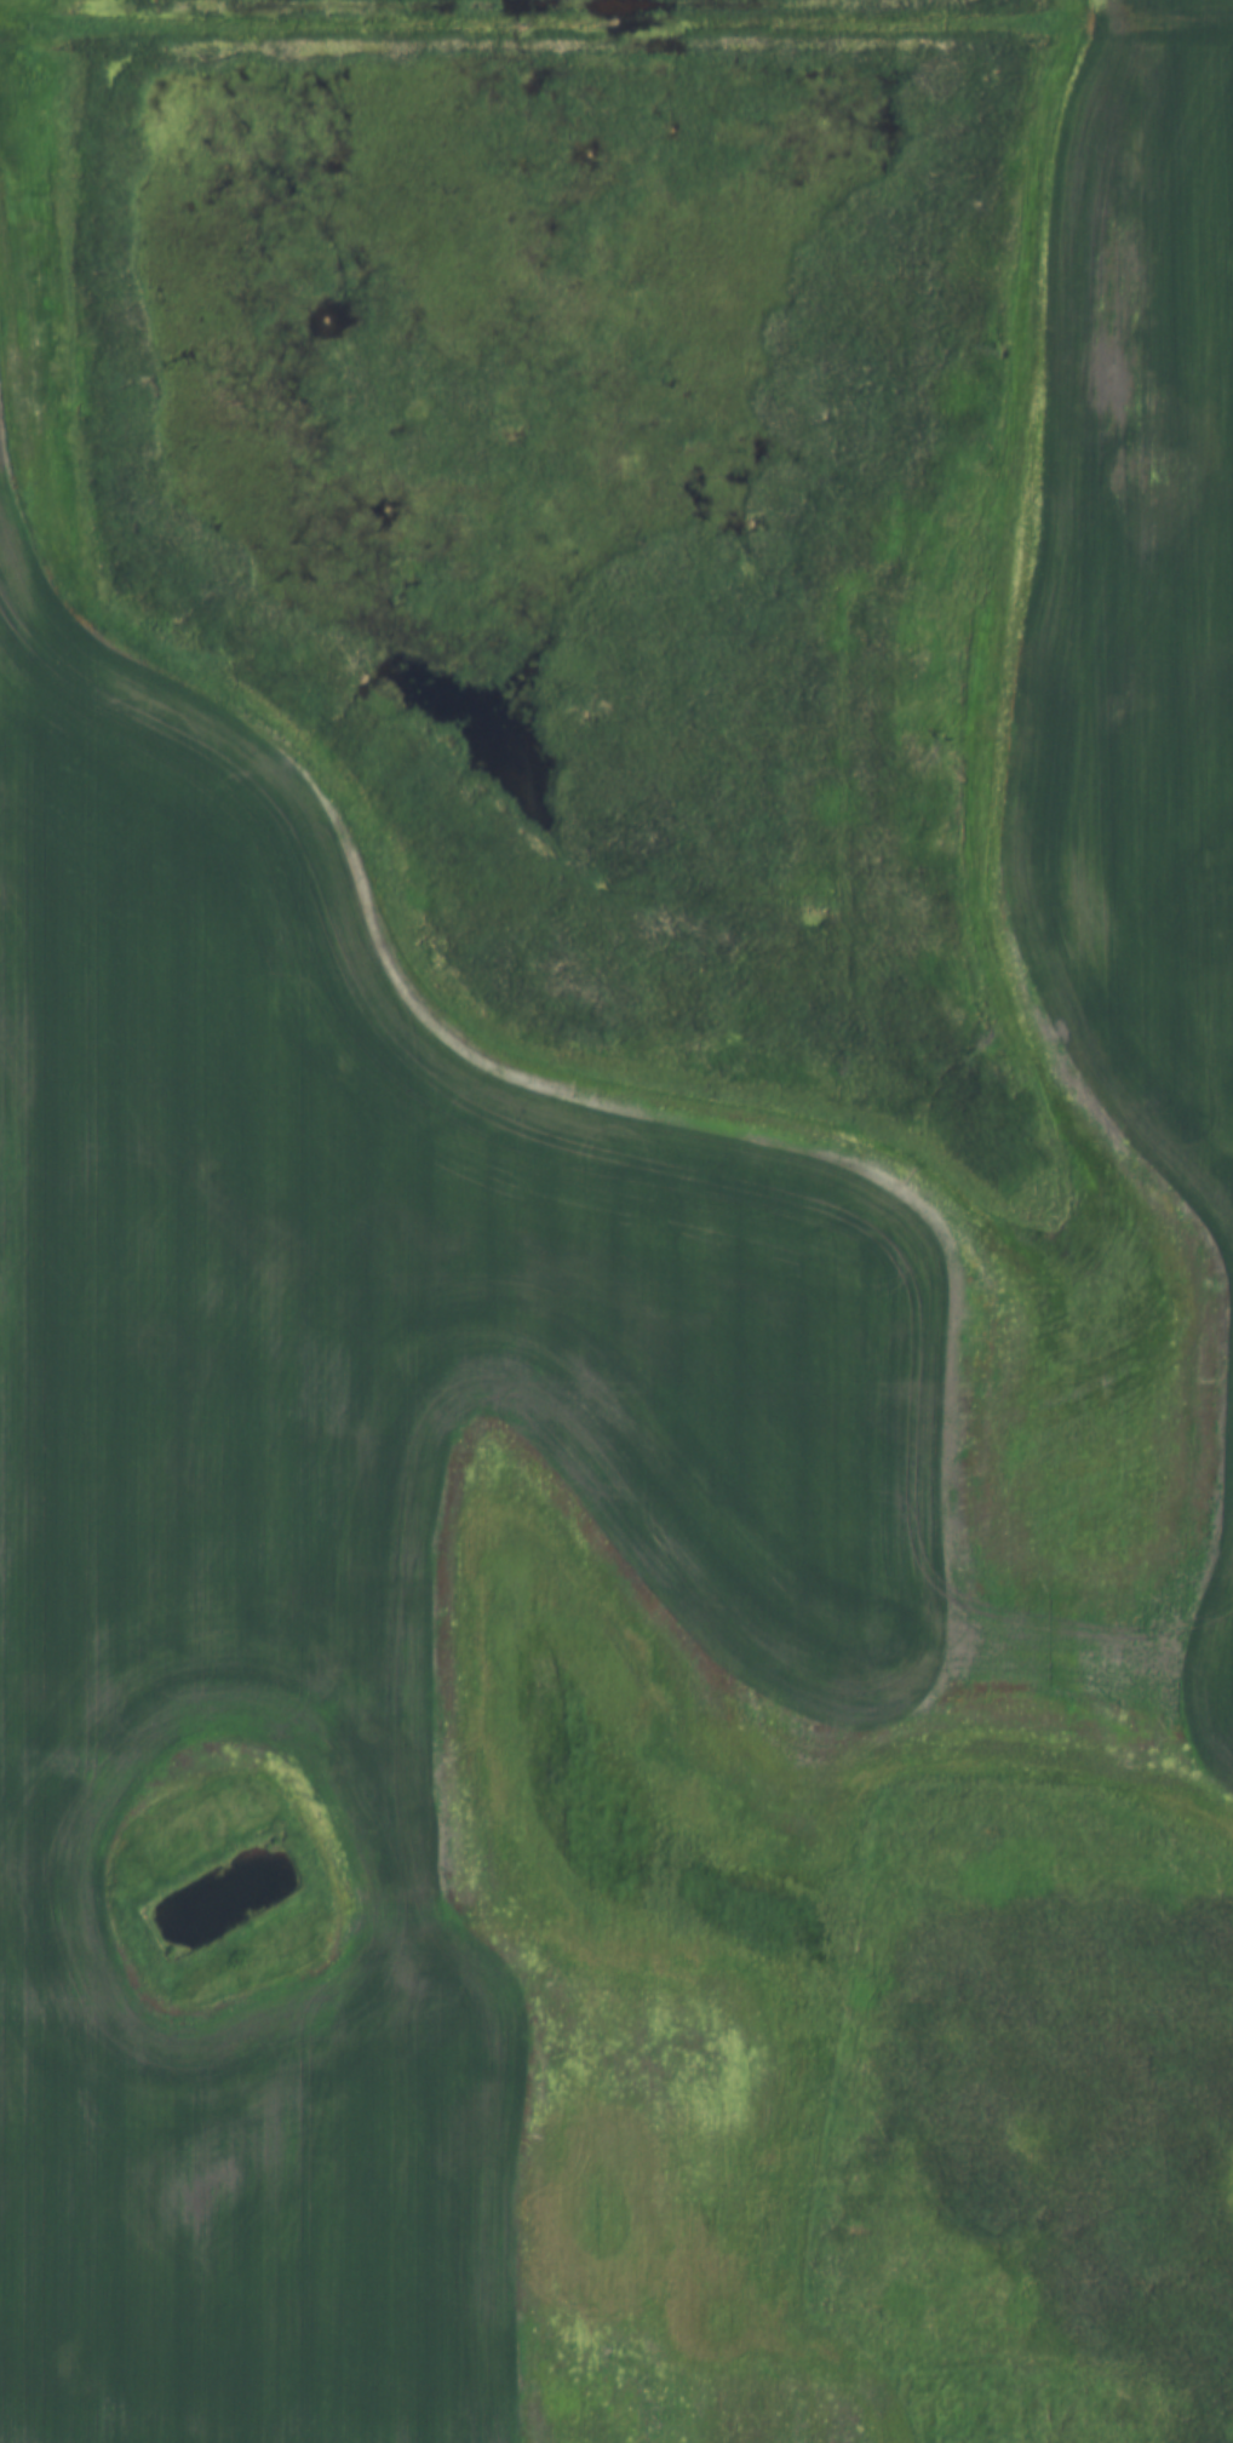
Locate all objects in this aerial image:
road: (616, 30)

